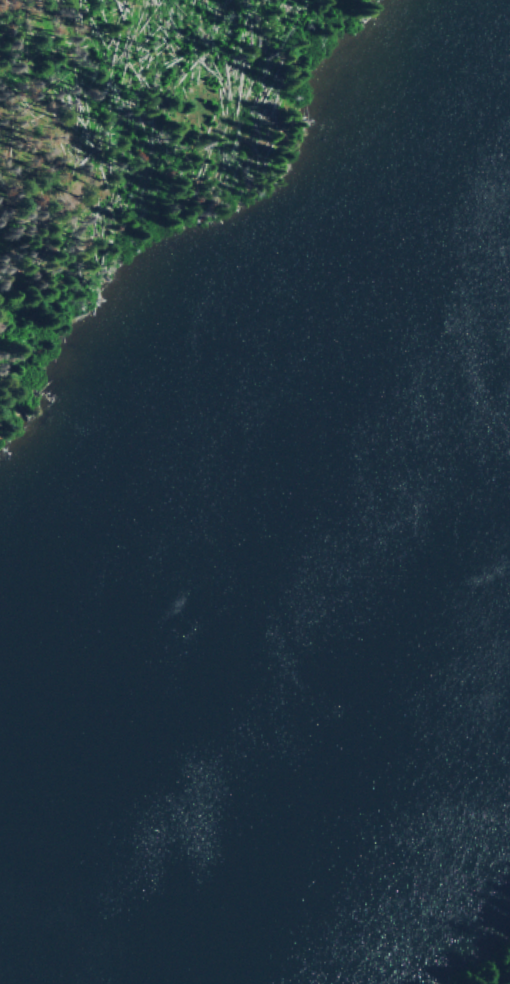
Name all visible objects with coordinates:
road: (493, 971)

